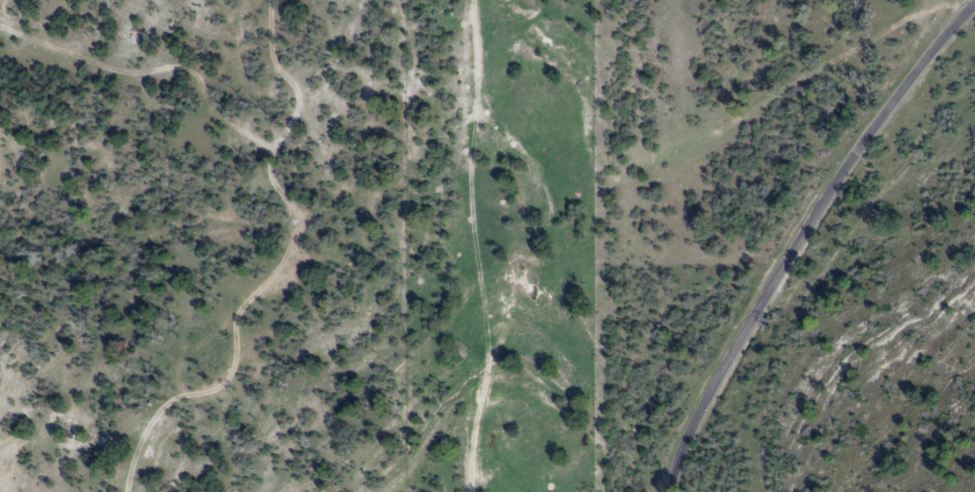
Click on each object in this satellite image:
road: (806, 241)
road: (449, 246)

